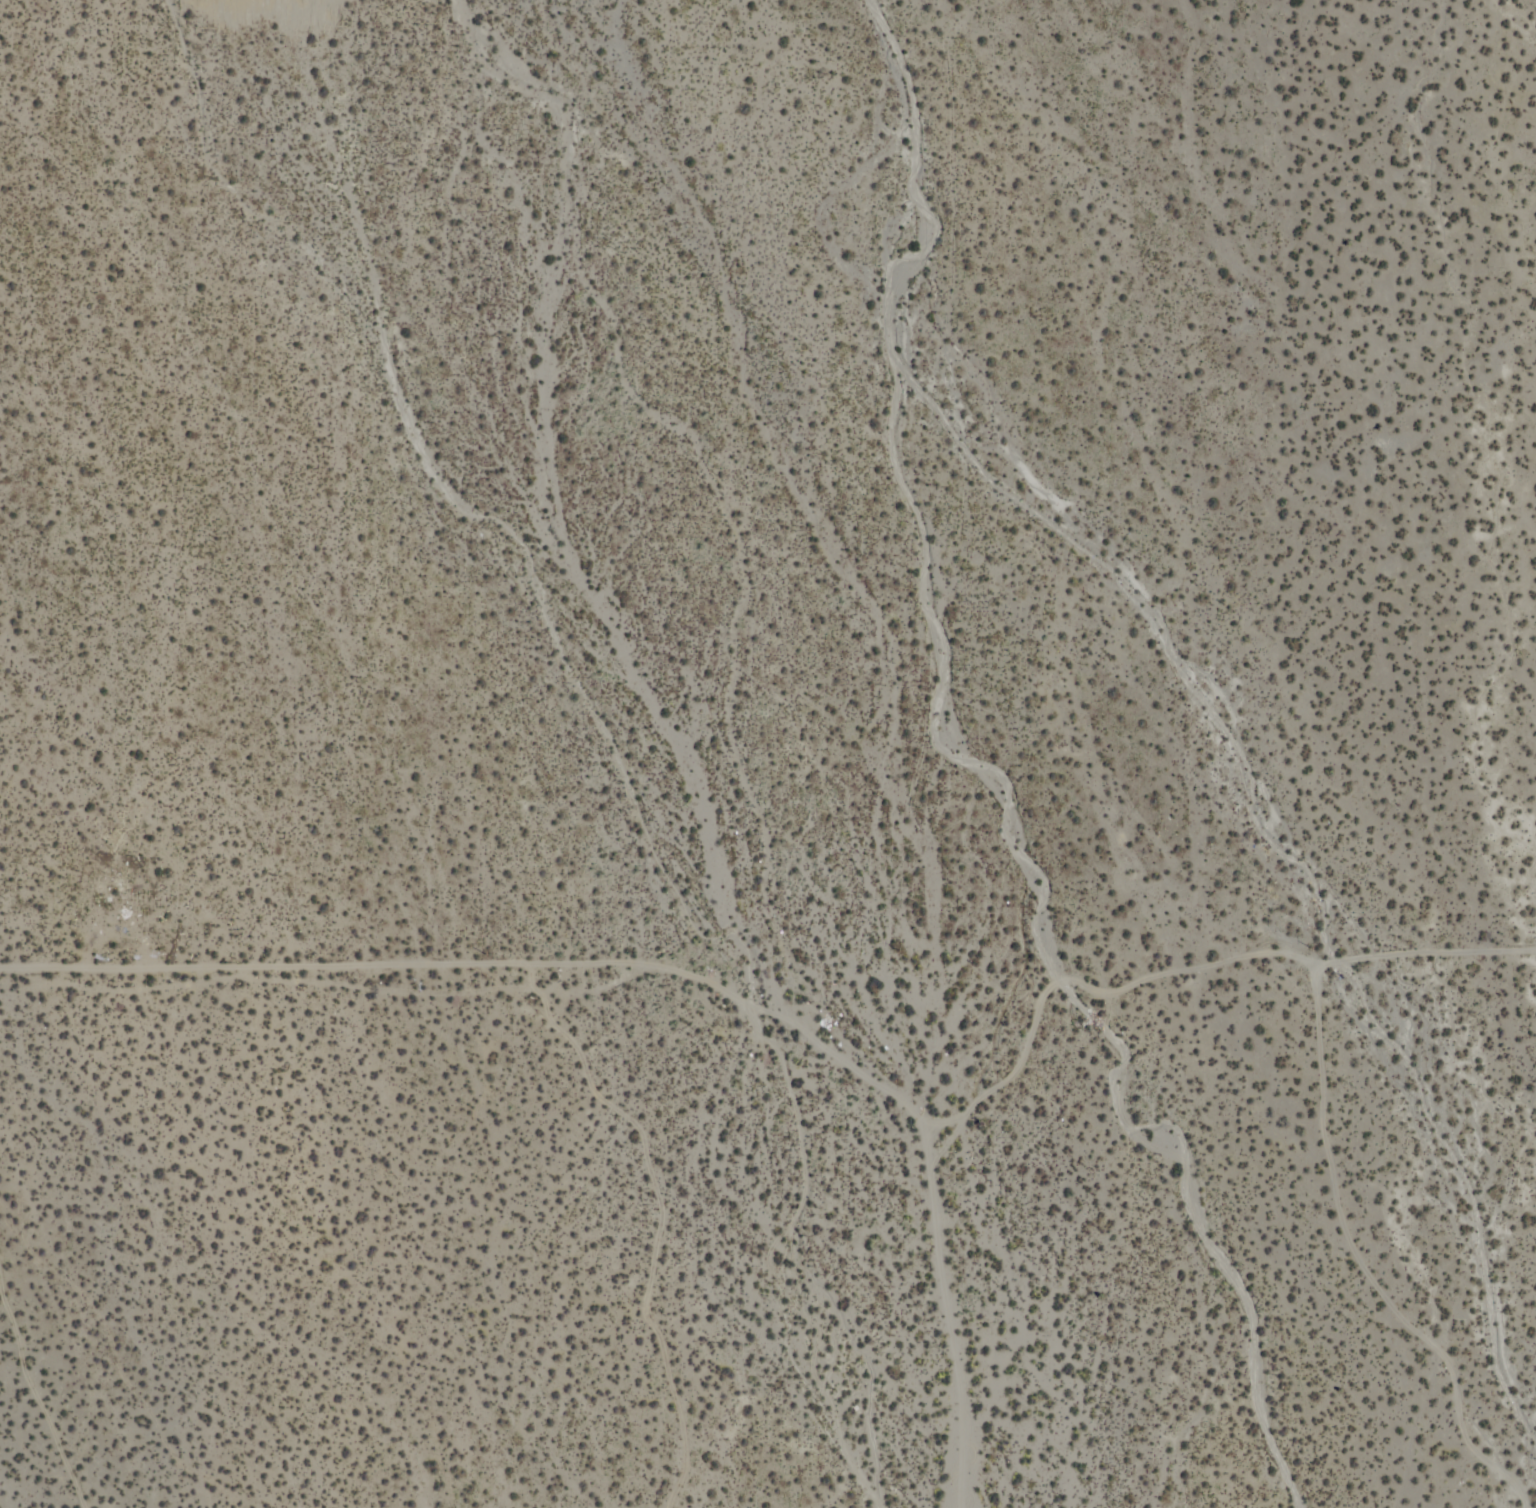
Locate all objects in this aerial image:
road: (336, 964)

